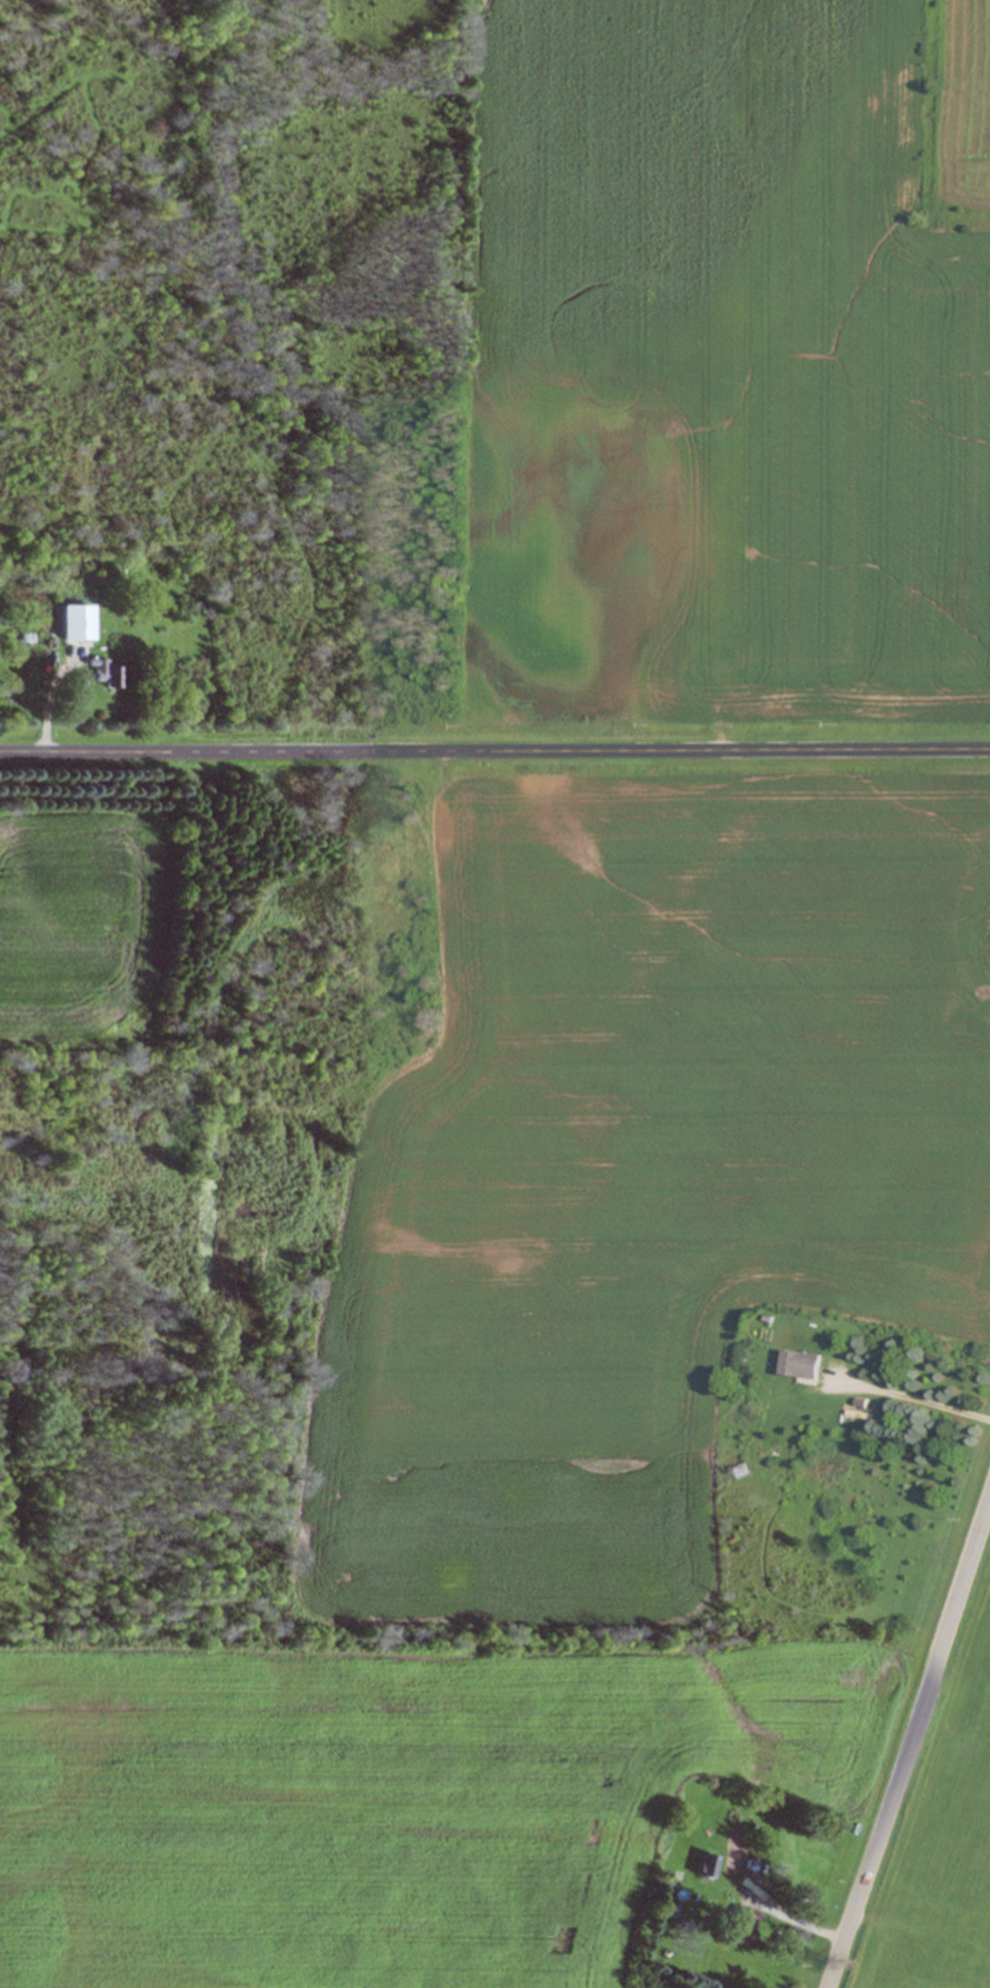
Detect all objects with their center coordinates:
building: (74, 622)
building: (102, 671)
road: (495, 747)
building: (801, 1364)
building: (738, 1470)
road: (910, 1743)
building: (704, 1864)
building: (738, 1924)

